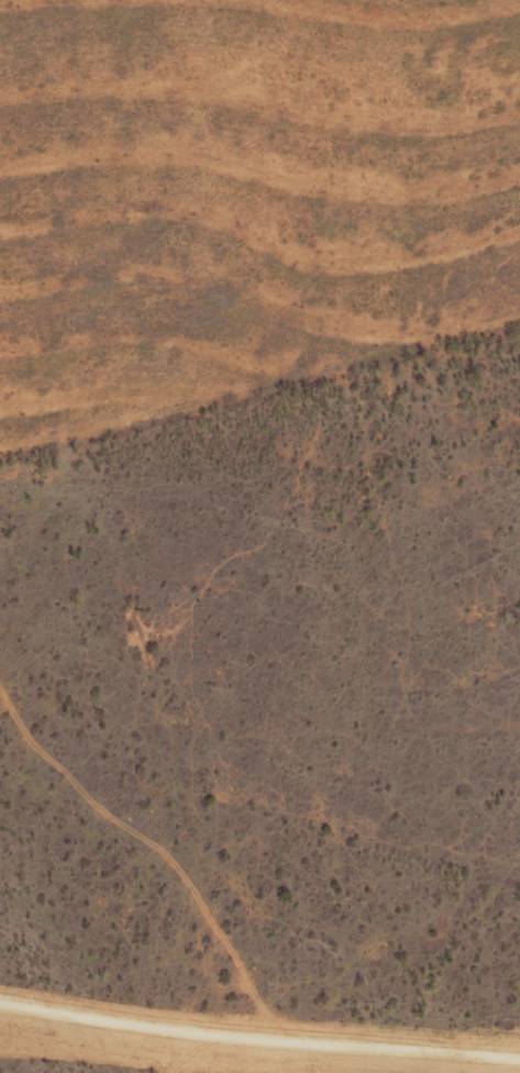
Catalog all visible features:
road: (101, 1022)
road: (362, 1047)
road: (187, 1053)

